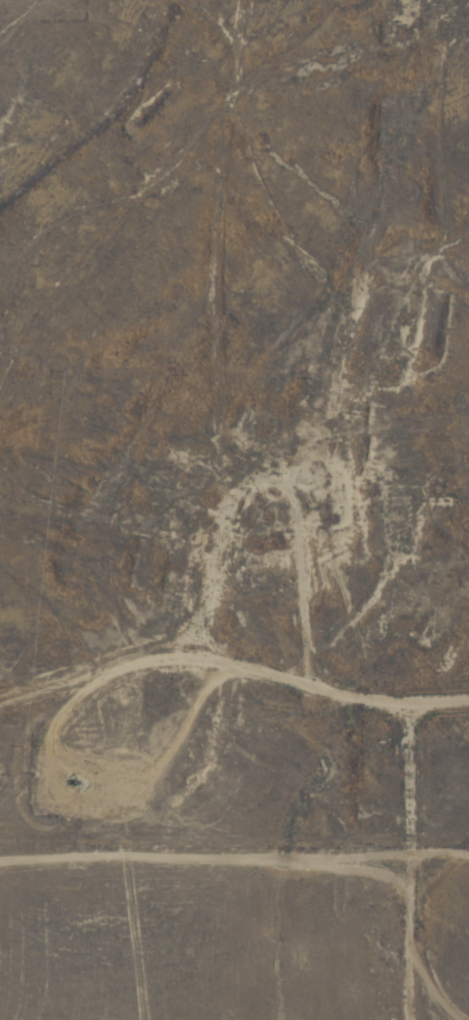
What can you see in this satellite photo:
road: (139, 170)
road: (264, 501)
road: (234, 692)
road: (378, 851)

